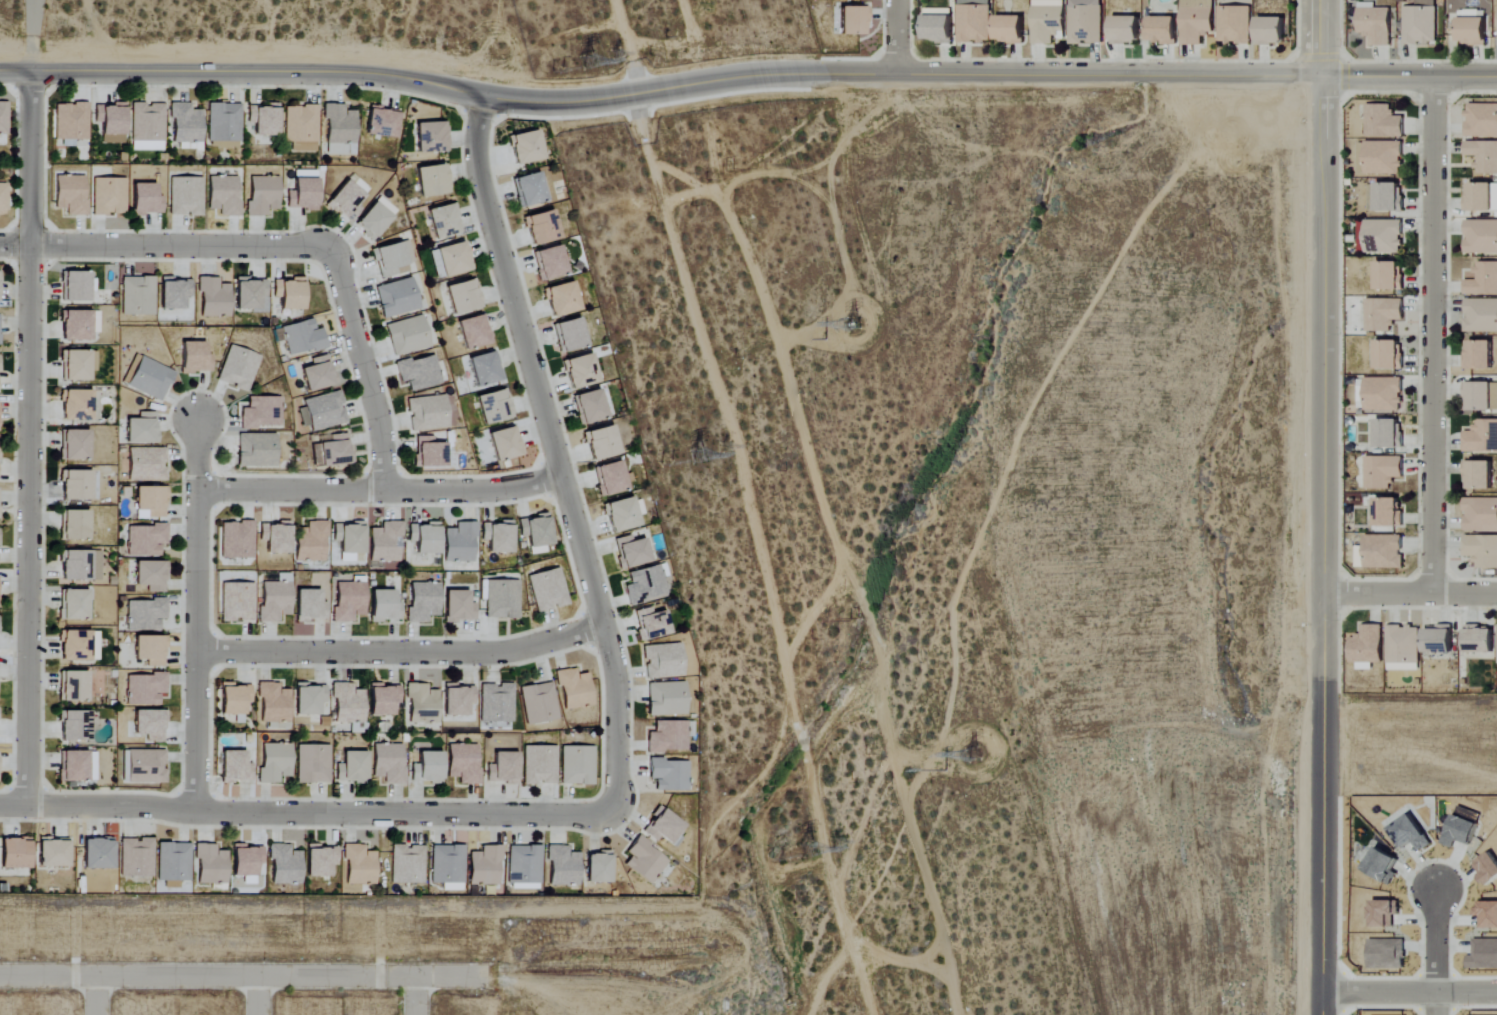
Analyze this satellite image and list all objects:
building: (939, 13)
building: (975, 21)
building: (1049, 21)
building: (1197, 21)
building: (853, 22)
building: (1086, 22)
building: (1421, 23)
building: (1235, 25)
building: (1376, 25)
building: (1473, 29)
building: (940, 30)
building: (1011, 30)
building: (1127, 30)
building: (1164, 31)
building: (1272, 31)
road: (31, 36)
road: (896, 36)
road: (1322, 38)
power tower: (611, 44)
power tower: (581, 52)
power tower: (565, 59)
road: (746, 78)
building: (3, 118)
building: (264, 119)
building: (1482, 120)
building: (1384, 121)
building: (71, 122)
building: (111, 122)
building: (224, 122)
building: (382, 122)
building: (186, 124)
building: (147, 126)
building: (301, 127)
building: (340, 130)
building: (431, 136)
building: (526, 146)
building: (1483, 155)
building: (1381, 157)
power tower: (727, 177)
building: (432, 180)
building: (529, 189)
building: (70, 194)
building: (303, 194)
building: (223, 195)
building: (262, 195)
building: (108, 196)
building: (185, 196)
building: (1386, 196)
building: (2, 197)
building: (1481, 197)
building: (145, 199)
building: (345, 200)
building: (374, 218)
building: (444, 220)
building: (541, 227)
building: (1481, 236)
road: (166, 246)
building: (392, 258)
building: (450, 259)
building: (550, 262)
building: (1390, 275)
building: (1483, 279)
building: (75, 285)
building: (174, 292)
building: (290, 293)
building: (252, 294)
building: (138, 296)
building: (463, 296)
building: (214, 297)
building: (397, 297)
building: (562, 298)
building: (1384, 313)
building: (1481, 316)
building: (95, 321)
building: (75, 324)
power tower: (852, 329)
building: (474, 331)
building: (570, 334)
building: (407, 335)
road: (1432, 335)
building: (303, 337)
building: (1390, 354)
building: (1480, 354)
building: (194, 357)
building: (75, 364)
building: (237, 367)
road: (363, 368)
building: (485, 368)
building: (581, 371)
building: (418, 372)
building: (318, 373)
building: (149, 379)
building: (1384, 394)
building: (1481, 396)
building: (76, 405)
building: (494, 406)
building: (590, 406)
building: (322, 411)
building: (261, 412)
building: (427, 412)
building: (141, 428)
building: (1390, 433)
building: (1482, 436)
road: (27, 438)
building: (602, 442)
power tower: (682, 442)
building: (505, 443)
building: (75, 445)
power tower: (722, 445)
power tower: (665, 447)
building: (256, 450)
building: (332, 451)
building: (430, 452)
road: (554, 457)
building: (146, 464)
building: (1383, 471)
building: (1480, 474)
building: (611, 478)
building: (76, 485)
road: (378, 490)
building: (150, 502)
building: (1390, 511)
building: (622, 514)
building: (1481, 514)
building: (74, 525)
building: (536, 533)
building: (498, 536)
building: (276, 538)
building: (425, 538)
building: (145, 539)
building: (237, 540)
building: (311, 541)
building: (385, 542)
building: (460, 542)
road: (1323, 546)
building: (1482, 550)
building: (631, 551)
building: (1385, 551)
building: (80, 565)
building: (151, 575)
building: (645, 584)
building: (547, 590)
road: (1410, 594)
building: (275, 599)
building: (502, 599)
building: (423, 601)
building: (237, 602)
building: (348, 602)
building: (76, 604)
building: (307, 605)
building: (384, 606)
building: (458, 606)
building: (145, 614)
road: (195, 614)
power tower: (854, 617)
building: (651, 624)
building: (1480, 639)
building: (1440, 641)
building: (78, 645)
building: (1367, 647)
building: (1404, 648)
building: (150, 649)
road: (400, 652)
building: (663, 660)
building: (73, 686)
building: (145, 689)
building: (574, 689)
building: (234, 698)
building: (383, 699)
building: (458, 699)
building: (667, 699)
building: (311, 700)
building: (274, 702)
building: (496, 702)
building: (348, 703)
building: (422, 703)
building: (538, 703)
building: (149, 725)
building: (75, 726)
building: (668, 737)
power tower: (973, 760)
building: (274, 763)
building: (389, 763)
building: (463, 763)
building: (312, 764)
building: (539, 765)
building: (576, 765)
building: (77, 766)
building: (144, 767)
building: (234, 767)
building: (352, 767)
building: (428, 768)
building: (503, 768)
building: (669, 774)
road: (304, 812)
building: (664, 826)
building: (1462, 832)
building: (1412, 834)
power tower: (815, 842)
power tower: (795, 850)
building: (15, 853)
building: (53, 853)
building: (98, 853)
power tower: (780, 857)
building: (136, 858)
building: (247, 860)
building: (320, 860)
building: (645, 861)
building: (173, 864)
building: (285, 864)
building: (408, 864)
building: (211, 865)
building: (360, 866)
building: (486, 866)
building: (524, 866)
building: (564, 866)
building: (1383, 866)
building: (449, 867)
building: (599, 867)
building: (1488, 869)
building: (1384, 913)
building: (1488, 913)
road: (1439, 953)
building: (1387, 954)
building: (1484, 954)
road: (246, 977)
road: (1409, 991)
road: (97, 996)
road: (259, 996)
road: (415, 996)

